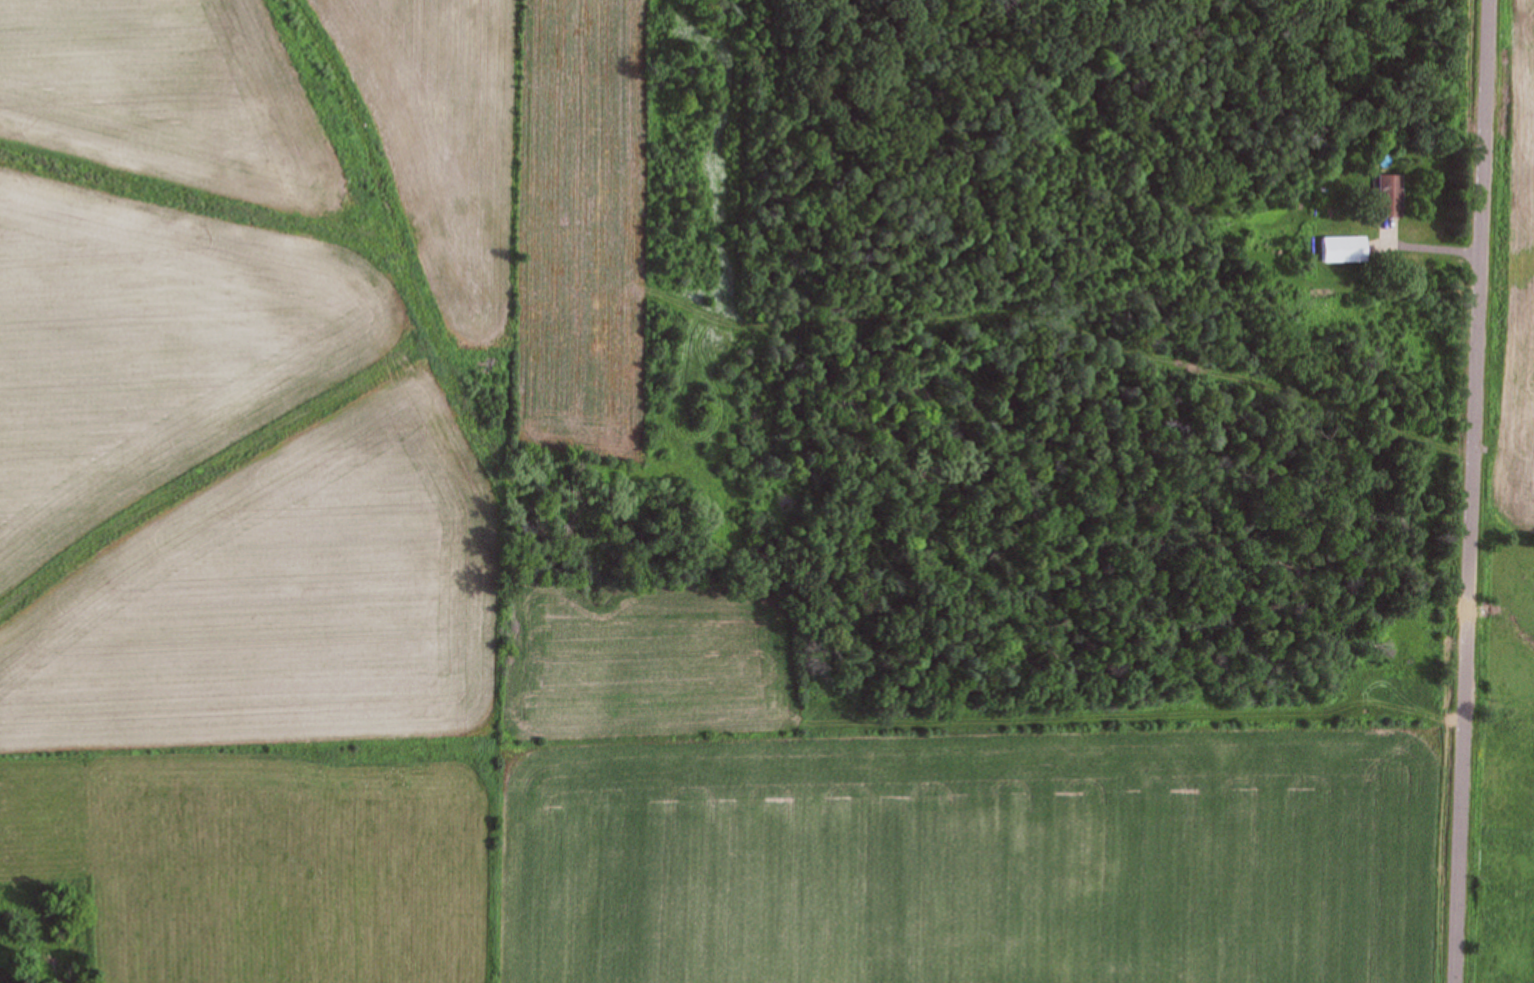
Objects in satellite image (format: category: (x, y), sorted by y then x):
building: (1385, 193)
building: (1340, 248)
road: (1468, 491)

